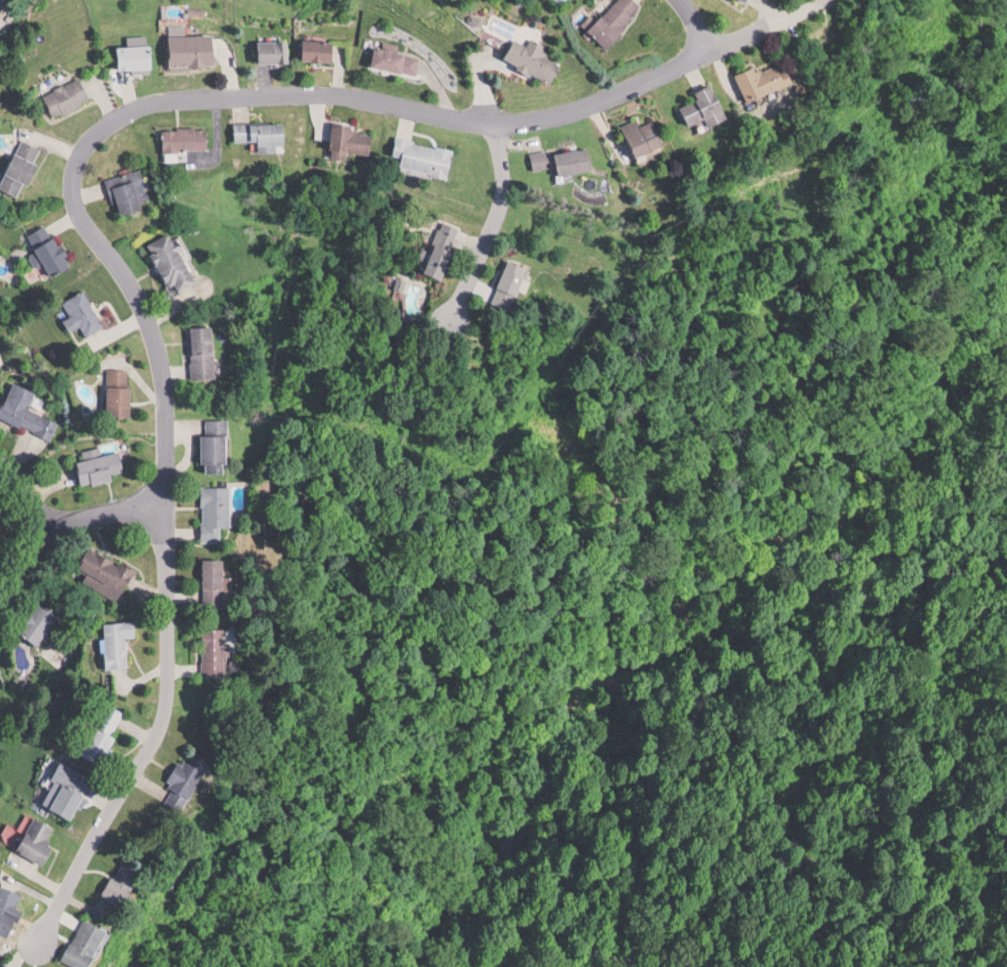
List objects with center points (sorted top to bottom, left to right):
building: (748, 0)
building: (1, 3)
building: (618, 20)
road: (694, 22)
building: (195, 49)
building: (321, 49)
building: (277, 50)
building: (138, 56)
building: (535, 58)
building: (397, 60)
building: (769, 79)
road: (235, 91)
building: (70, 96)
building: (710, 106)
building: (264, 133)
building: (646, 136)
building: (187, 138)
building: (352, 140)
building: (424, 156)
building: (542, 159)
building: (576, 160)
building: (24, 166)
building: (131, 192)
road: (499, 212)
building: (53, 249)
building: (445, 250)
building: (175, 262)
building: (514, 284)
building: (85, 313)
building: (204, 352)
building: (121, 392)
building: (27, 411)
building: (217, 445)
building: (102, 467)
road: (38, 478)
building: (217, 511)
road: (63, 522)
building: (107, 572)
building: (216, 580)
building: (44, 616)
building: (119, 641)
building: (219, 652)
building: (105, 730)
road: (152, 736)
building: (197, 773)
building: (70, 787)
building: (40, 838)
building: (130, 881)
building: (11, 908)
building: (94, 941)
building: (15, 965)

